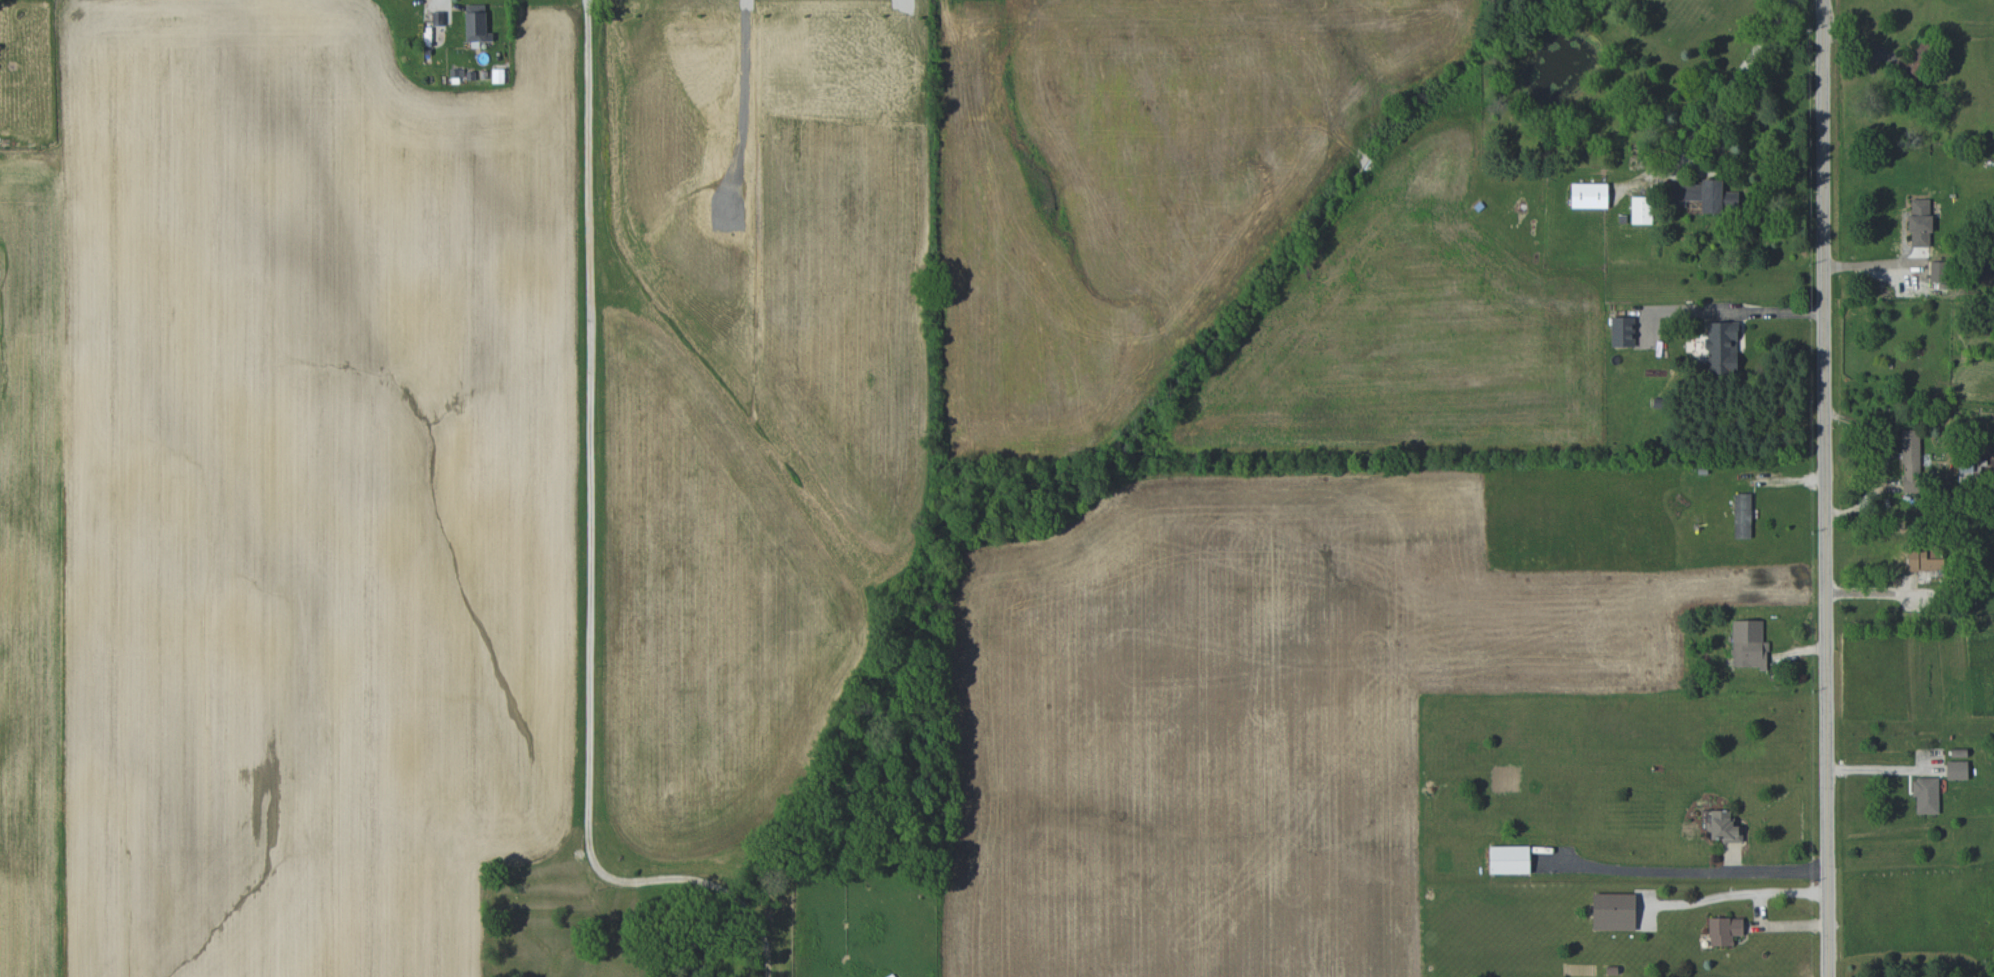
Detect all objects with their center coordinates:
building: (438, 18)
building: (476, 23)
building: (1911, 64)
building: (498, 76)
road: (1719, 99)
road: (1719, 162)
building: (1589, 195)
building: (1704, 196)
building: (1641, 210)
building: (1920, 222)
road: (1873, 264)
building: (1936, 271)
road: (1768, 312)
building: (1622, 331)
building: (1722, 347)
building: (1911, 460)
road: (1886, 461)
road: (1824, 488)
building: (1742, 515)
road: (591, 553)
building: (1924, 560)
road: (1876, 594)
building: (1748, 644)
road: (1877, 768)
building: (1957, 770)
building: (1926, 795)
building: (1724, 827)
building: (1509, 859)
road: (1770, 871)
road: (1761, 908)
building: (1614, 911)
building: (1724, 930)

